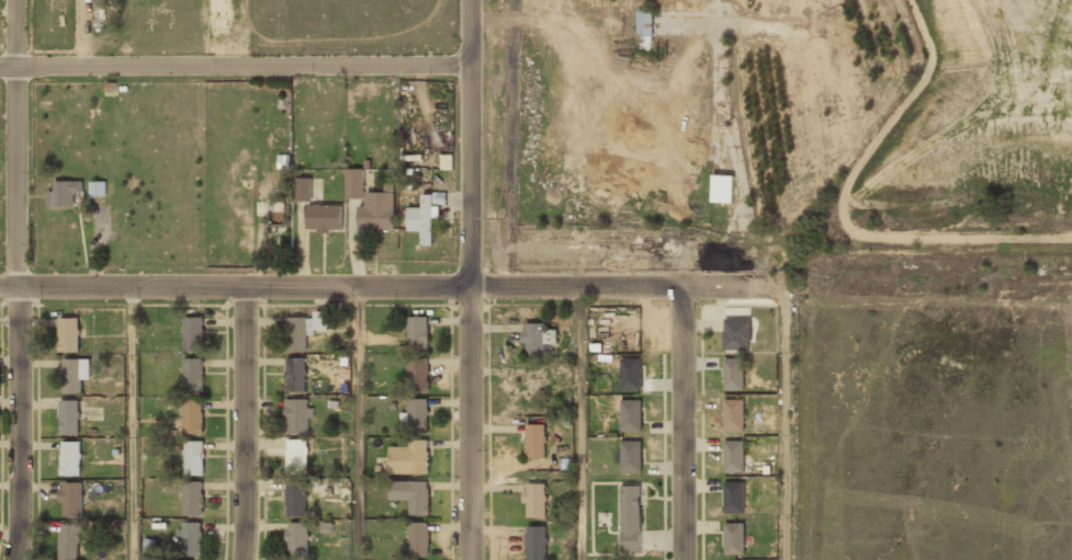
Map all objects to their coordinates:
building: (99, 15)
building: (644, 23)
road: (235, 66)
landfill: (969, 137)
road: (15, 142)
building: (353, 183)
building: (97, 187)
building: (303, 188)
building: (721, 188)
building: (64, 192)
building: (376, 212)
building: (323, 218)
power tower: (500, 218)
building: (422, 219)
road: (470, 279)
road: (390, 287)
building: (323, 320)
building: (297, 331)
building: (417, 332)
building: (68, 333)
building: (192, 333)
building: (736, 334)
building: (538, 339)
building: (74, 373)
building: (192, 373)
building: (295, 373)
building: (630, 374)
building: (731, 374)
building: (418, 375)
building: (533, 384)
building: (416, 411)
building: (69, 415)
building: (297, 415)
building: (630, 415)
building: (732, 415)
building: (192, 416)
road: (783, 422)
road: (19, 423)
road: (132, 423)
road: (244, 423)
road: (359, 423)
road: (580, 423)
road: (682, 423)
building: (534, 441)
building: (296, 454)
building: (631, 456)
building: (732, 456)
building: (69, 457)
building: (193, 457)
building: (408, 458)
building: (410, 494)
building: (191, 498)
building: (294, 498)
building: (732, 498)
building: (70, 499)
building: (534, 499)
building: (630, 518)
building: (326, 527)
building: (190, 538)
building: (418, 538)
building: (733, 538)
building: (296, 539)
building: (68, 540)
building: (535, 542)
building: (151, 546)

